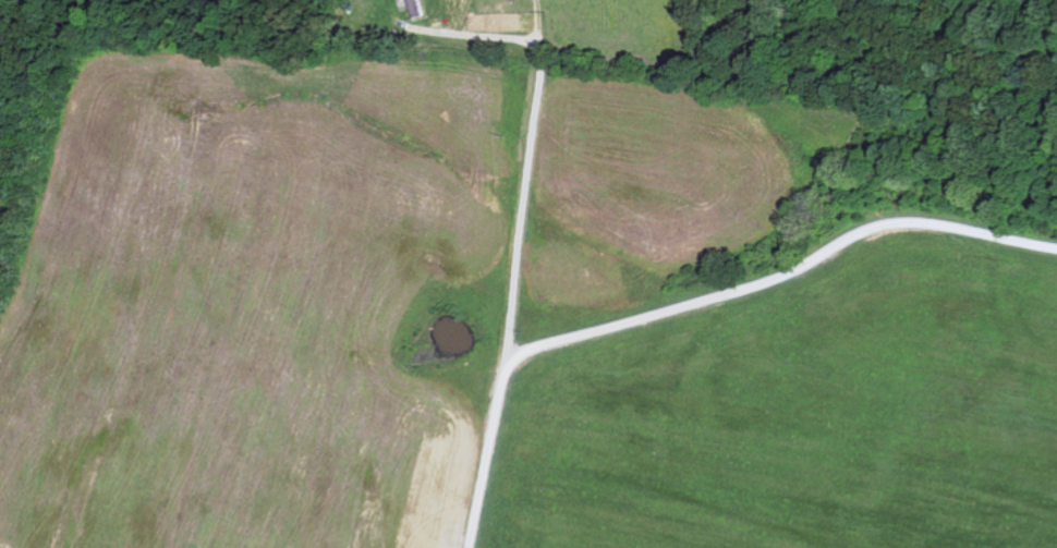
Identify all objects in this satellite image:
road: (518, 275)
road: (782, 277)

